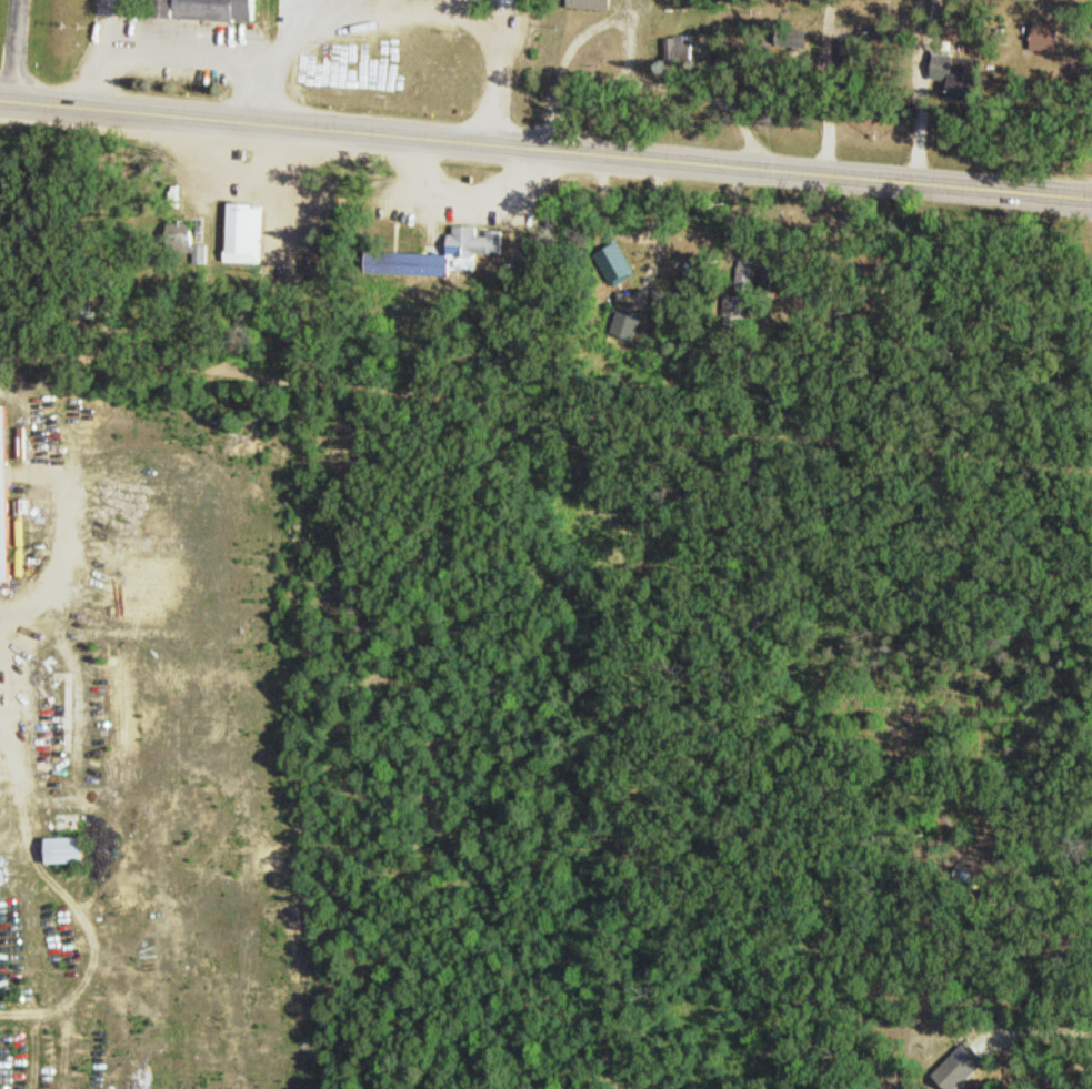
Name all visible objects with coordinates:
building: (510, 2)
building: (166, 7)
building: (217, 8)
building: (1045, 38)
parking lot: (168, 49)
building: (680, 49)
road: (14, 50)
building: (856, 50)
road: (655, 81)
road: (545, 148)
building: (248, 231)
building: (467, 245)
building: (740, 299)
road: (545, 409)
building: (6, 493)
building: (71, 849)

